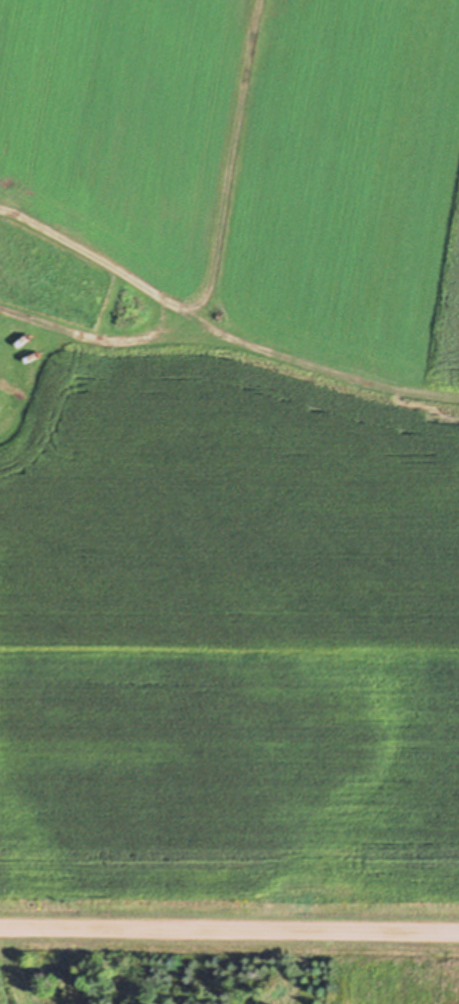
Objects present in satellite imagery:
road: (229, 928)

